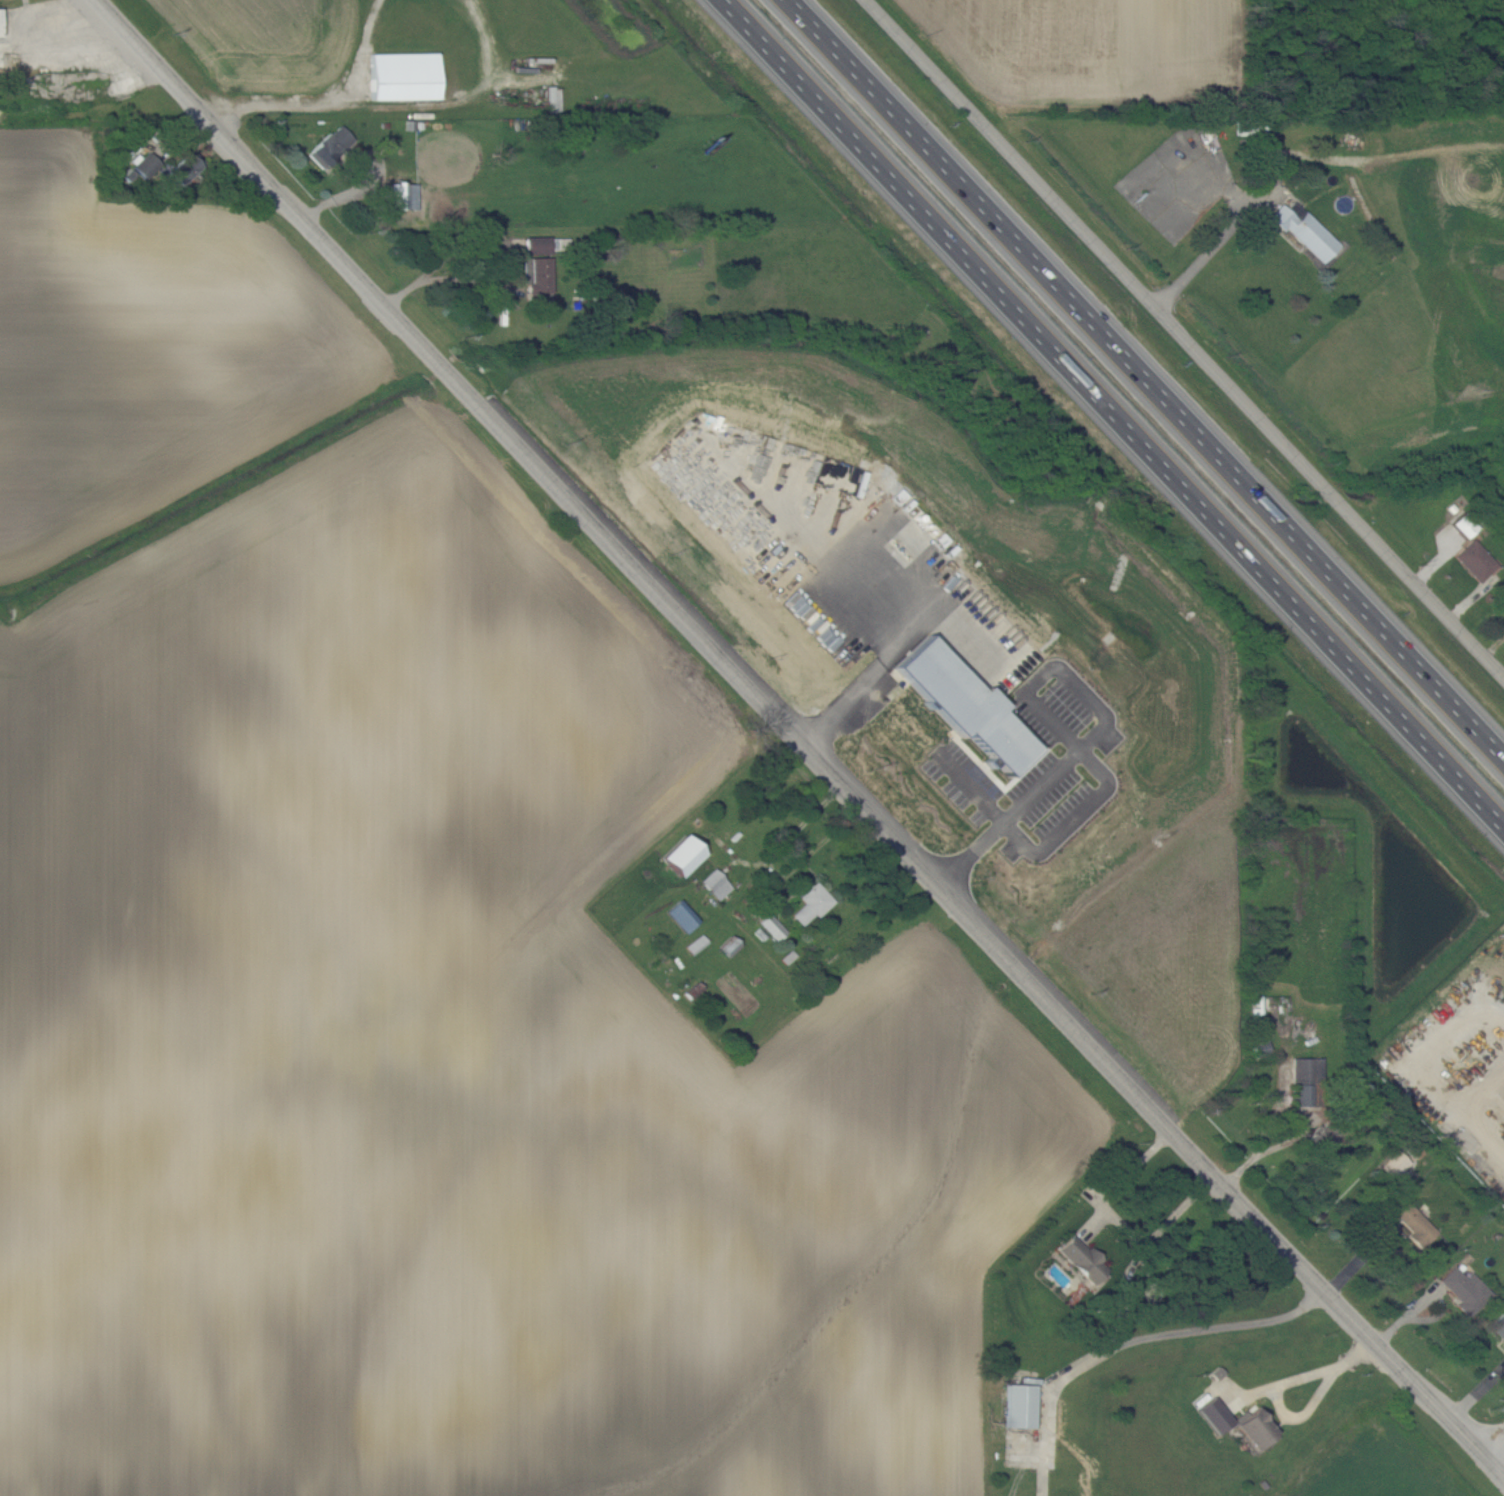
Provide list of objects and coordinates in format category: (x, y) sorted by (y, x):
building: (0, 34)
road: (57, 35)
building: (404, 76)
road: (333, 104)
building: (331, 146)
building: (147, 166)
building: (186, 168)
building: (403, 196)
road: (1227, 231)
building: (1305, 231)
road: (495, 242)
building: (538, 245)
building: (539, 279)
road: (1185, 338)
road: (1147, 376)
road: (1109, 416)
building: (1464, 525)
building: (1476, 559)
building: (976, 679)
road: (1040, 700)
road: (796, 740)
building: (682, 854)
road: (776, 869)
building: (715, 883)
building: (810, 903)
building: (682, 915)
building: (772, 926)
building: (696, 944)
building: (729, 945)
building: (1256, 1004)
building: (1305, 1081)
building: (1327, 1133)
building: (1394, 1163)
road: (1123, 1181)
building: (1415, 1224)
building: (1083, 1259)
building: (1465, 1290)
building: (1498, 1327)
road: (1136, 1343)
road: (1287, 1385)
building: (1020, 1405)
building: (1216, 1415)
building: (1257, 1428)
road: (1493, 1439)
road: (1502, 1467)

